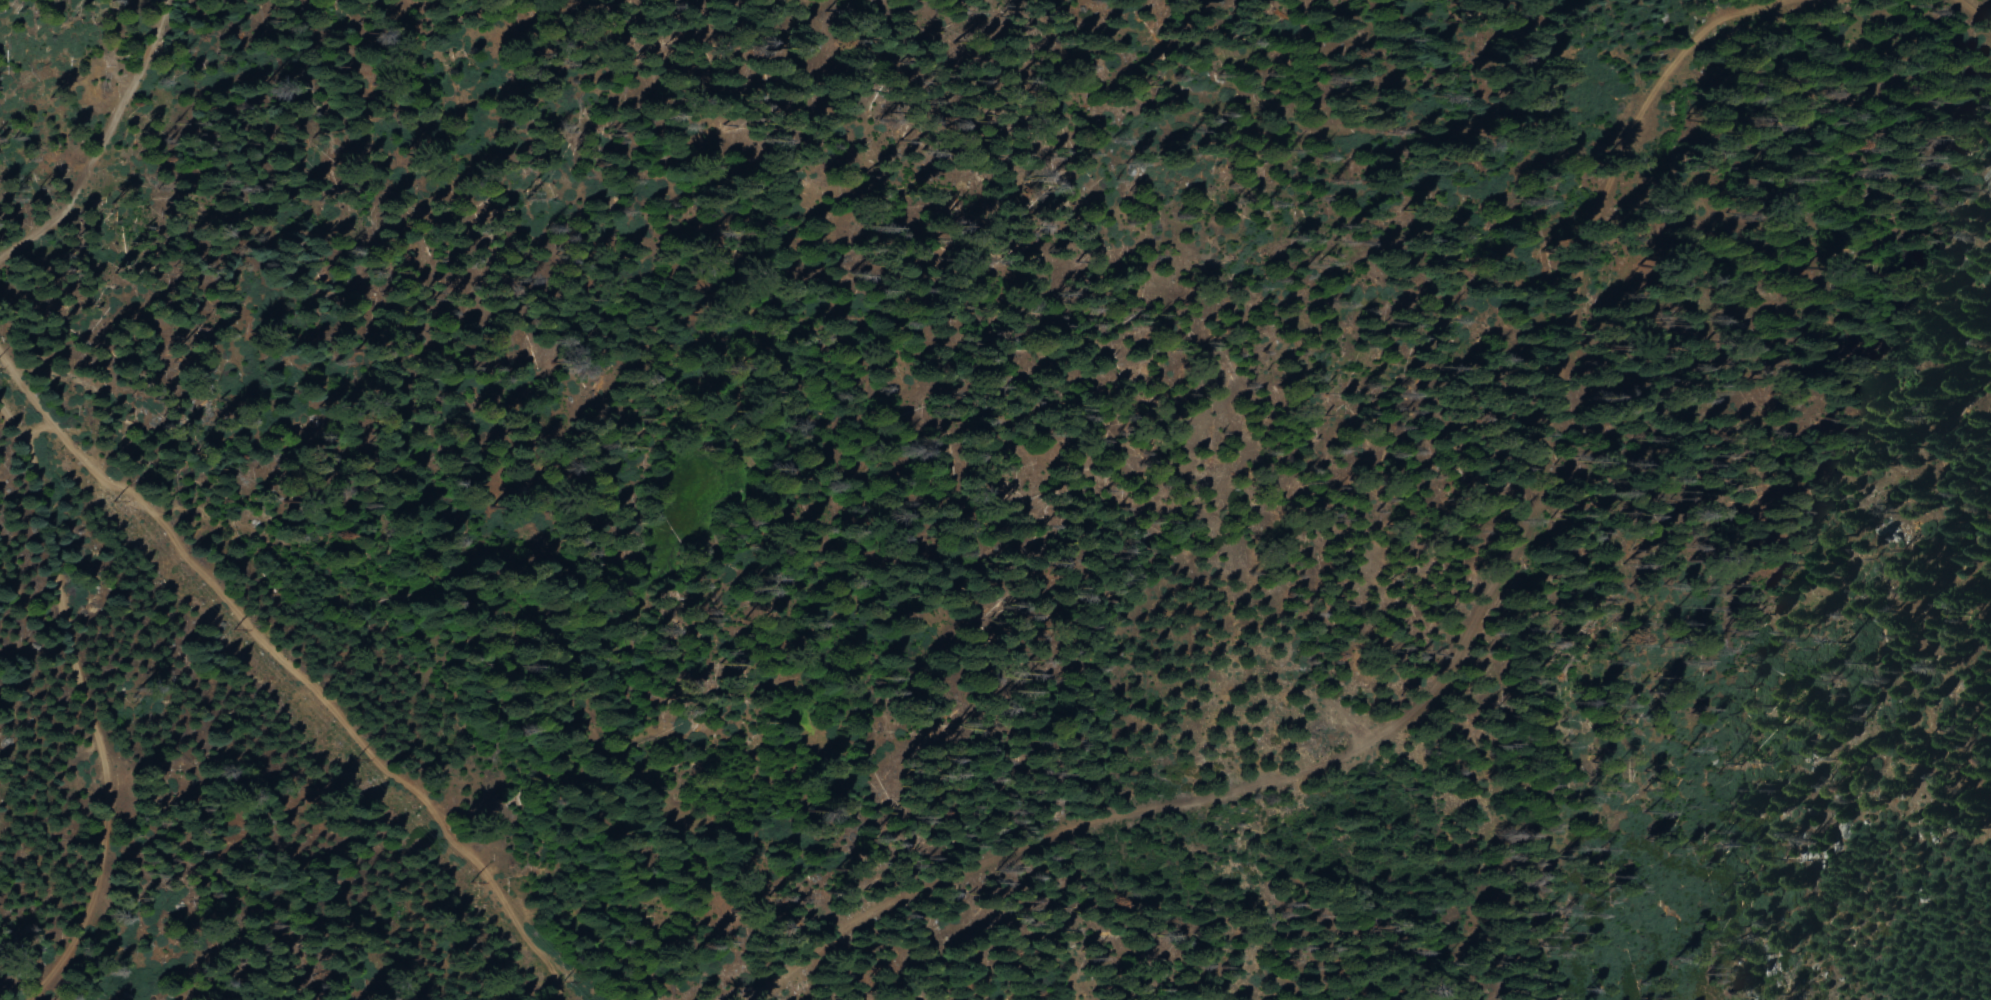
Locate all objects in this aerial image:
road: (1756, 8)
road: (1971, 16)
road: (118, 186)
power tower: (104, 499)
power tower: (217, 631)
road: (97, 678)
power tower: (345, 756)
power tower: (456, 883)
power tower: (554, 977)

